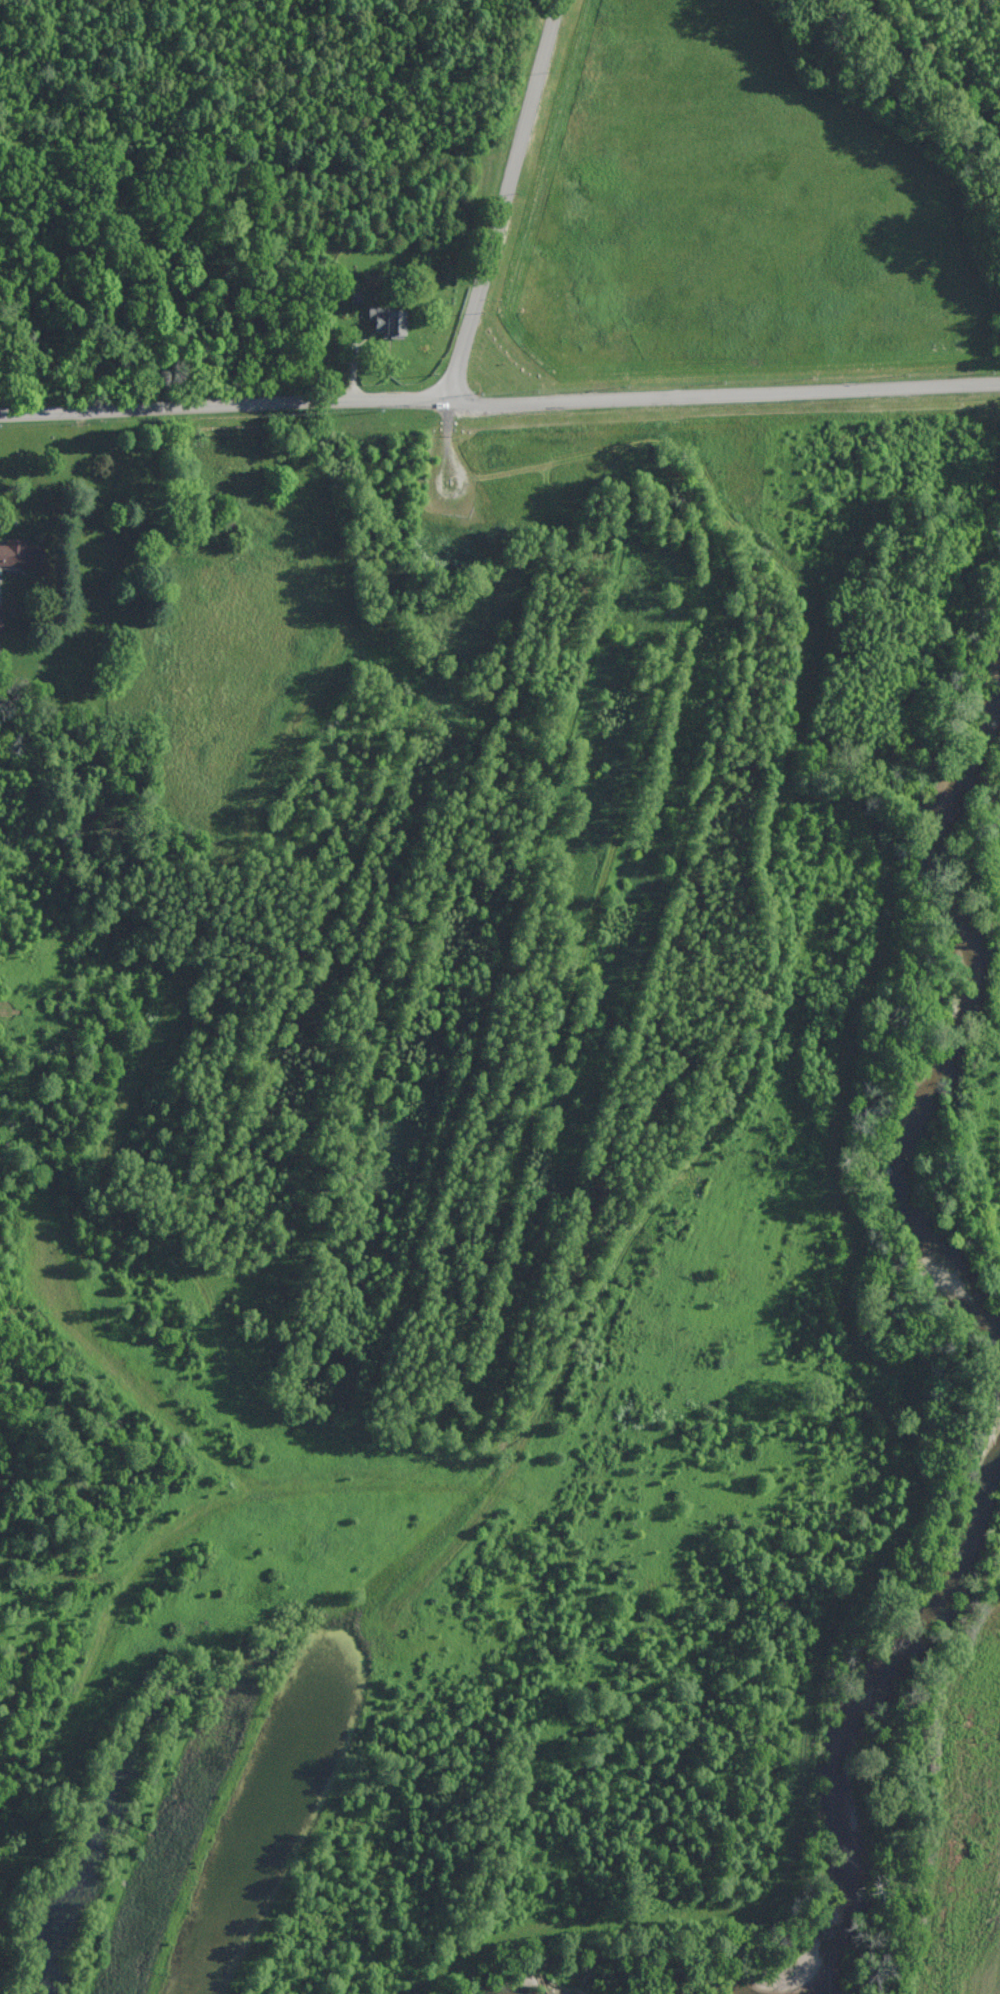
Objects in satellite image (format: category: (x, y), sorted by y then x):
road: (190, 80)
road: (393, 80)
park: (250, 194)
road: (508, 194)
building: (388, 322)
road: (498, 401)
building: (21, 553)
building: (1, 618)
river: (938, 1081)
river: (843, 1715)
river: (525, 1989)

